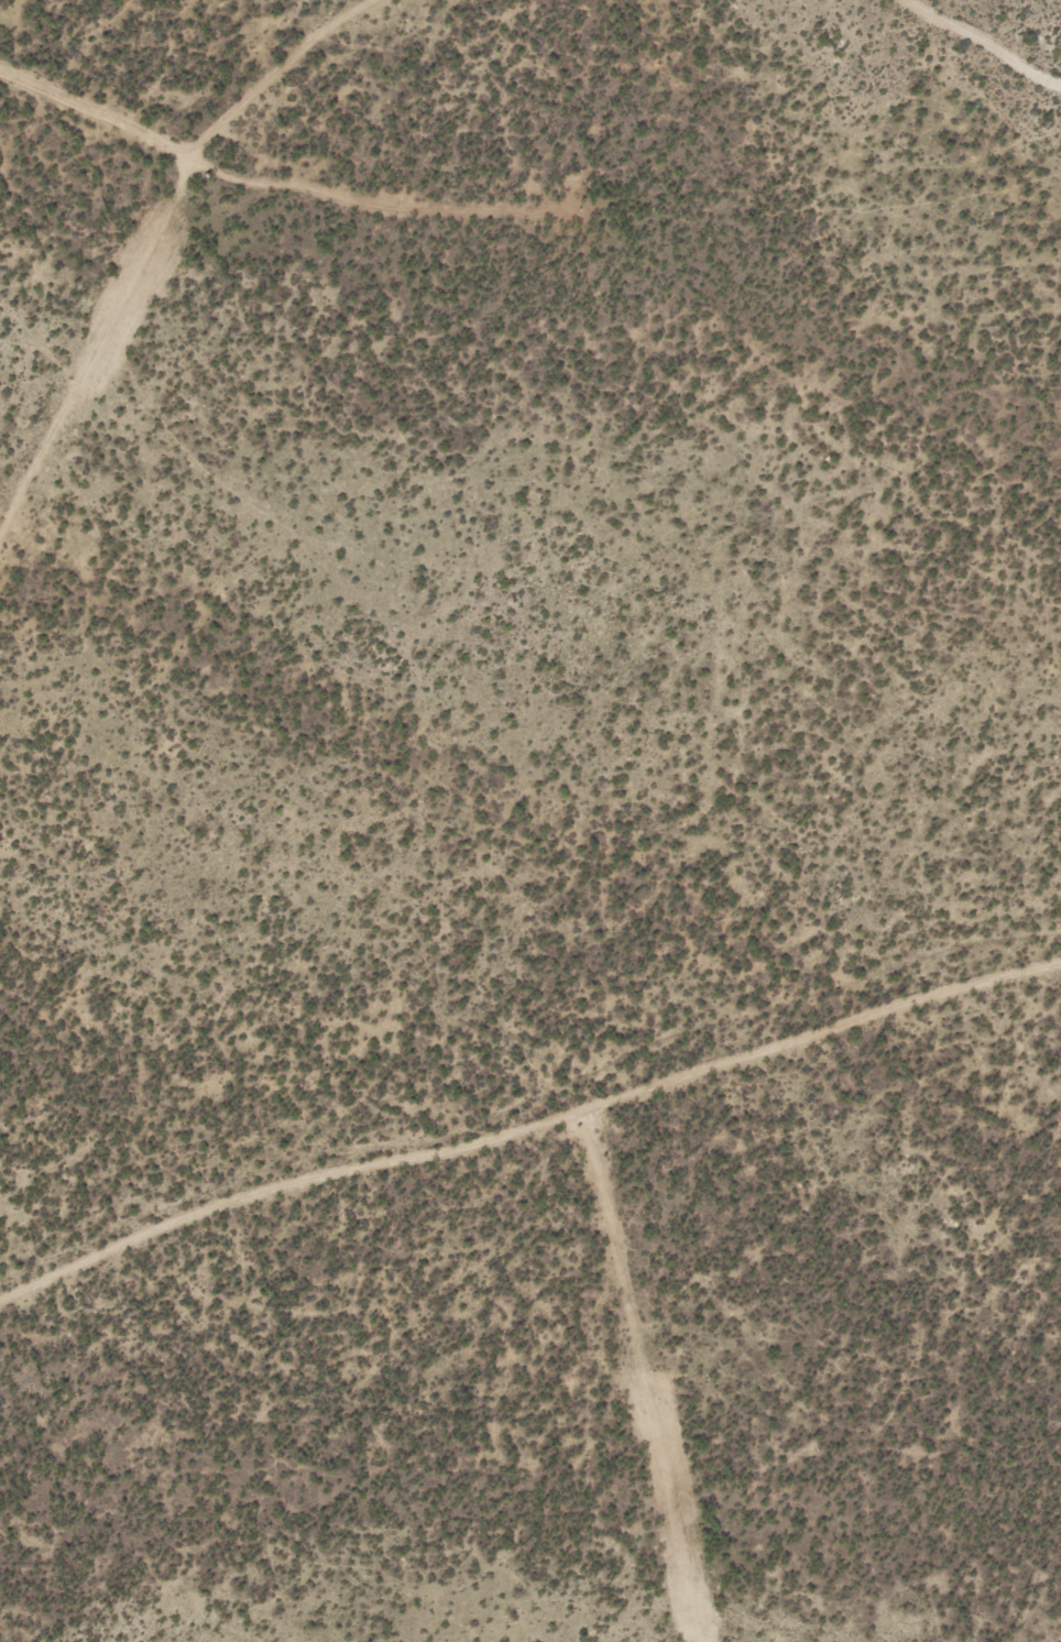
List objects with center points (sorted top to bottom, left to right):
road: (982, 45)
road: (277, 183)
road: (147, 248)
road: (528, 1127)
road: (645, 1378)

